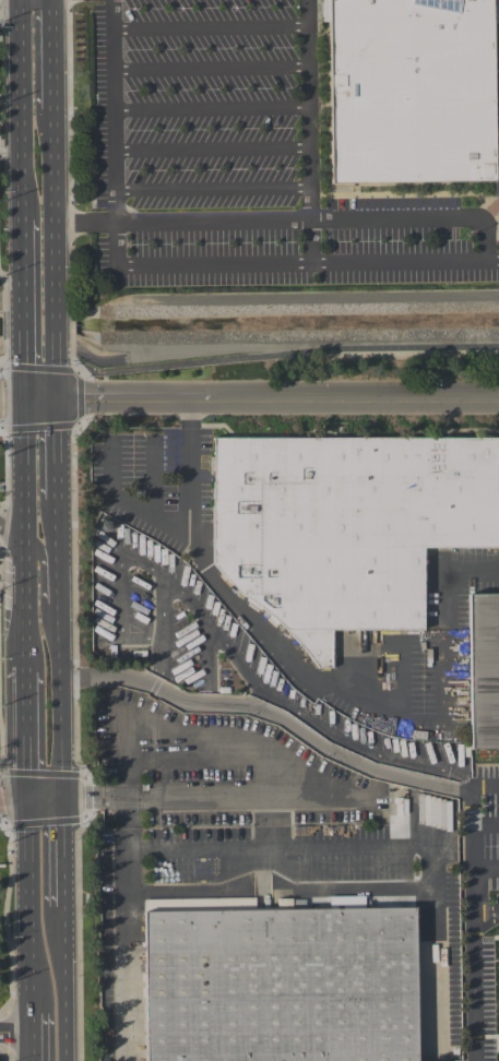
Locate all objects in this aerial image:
road: (210, 28)
road: (211, 69)
building: (407, 92)
road: (22, 109)
road: (308, 109)
road: (211, 110)
road: (212, 150)
road: (11, 154)
building: (495, 178)
road: (212, 190)
road: (54, 199)
road: (320, 219)
road: (85, 224)
road: (309, 242)
road: (175, 265)
road: (25, 308)
road: (287, 354)
road: (13, 369)
road: (50, 371)
road: (263, 395)
road: (13, 396)
traffic signals: (27, 397)
traffic signals: (58, 397)
road: (126, 504)
building: (345, 528)
road: (26, 533)
road: (13, 538)
road: (49, 582)
road: (58, 600)
building: (482, 673)
road: (319, 686)
building: (459, 701)
road: (270, 717)
road: (27, 736)
road: (128, 786)
road: (485, 790)
road: (14, 803)
traffic signals: (29, 803)
road: (44, 803)
traffic signals: (59, 803)
road: (209, 803)
road: (486, 825)
road: (388, 846)
road: (60, 856)
road: (486, 867)
building: (345, 902)
road: (31, 908)
road: (486, 910)
road: (474, 926)
road: (61, 985)
building: (277, 986)
road: (16, 1034)
road: (33, 1037)

